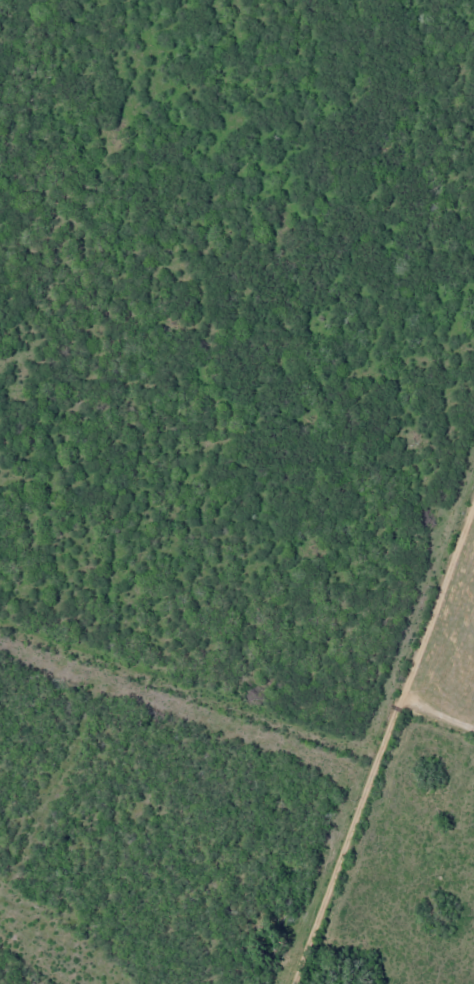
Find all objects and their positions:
road: (389, 754)

